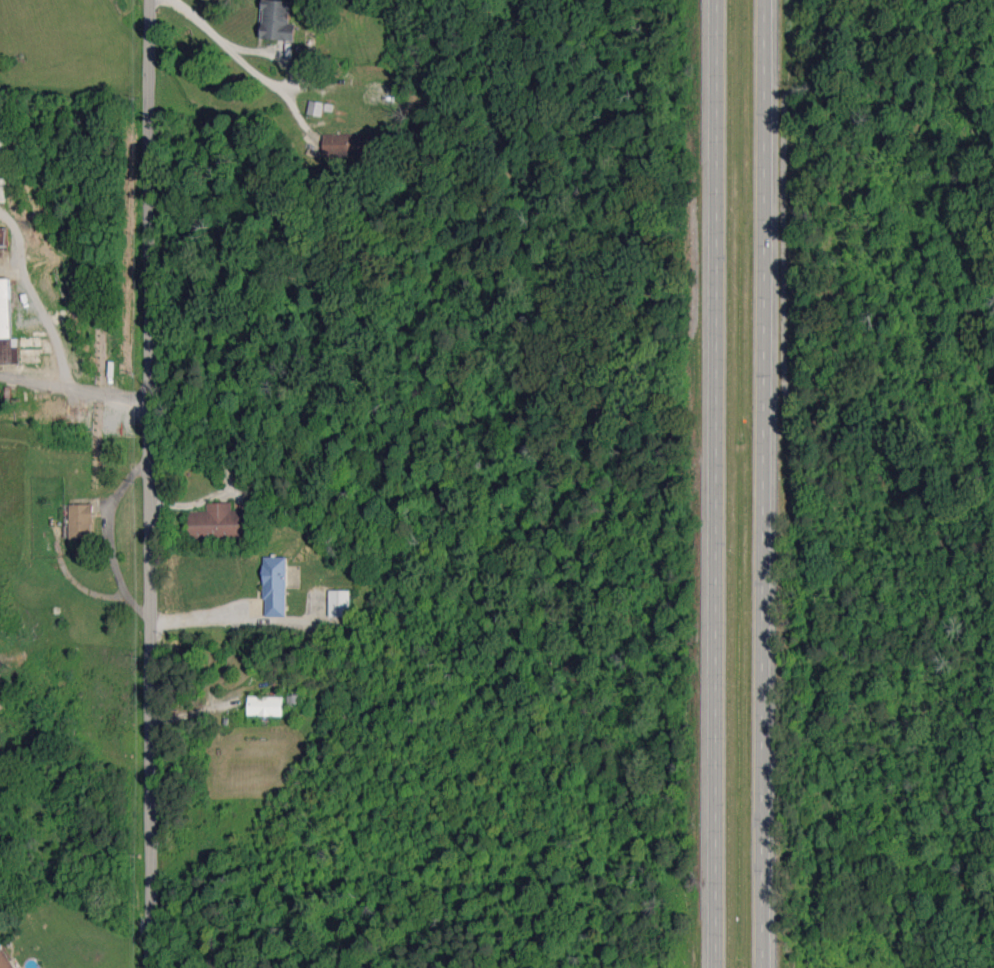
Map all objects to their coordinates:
building: (277, 20)
road: (239, 60)
building: (315, 108)
building: (346, 144)
building: (2, 171)
building: (0, 229)
building: (2, 242)
road: (28, 299)
building: (7, 326)
road: (74, 397)
road: (148, 483)
road: (716, 483)
road: (767, 483)
building: (81, 521)
building: (220, 522)
road: (108, 535)
building: (275, 586)
building: (340, 603)
road: (198, 613)
building: (265, 705)
building: (5, 959)

